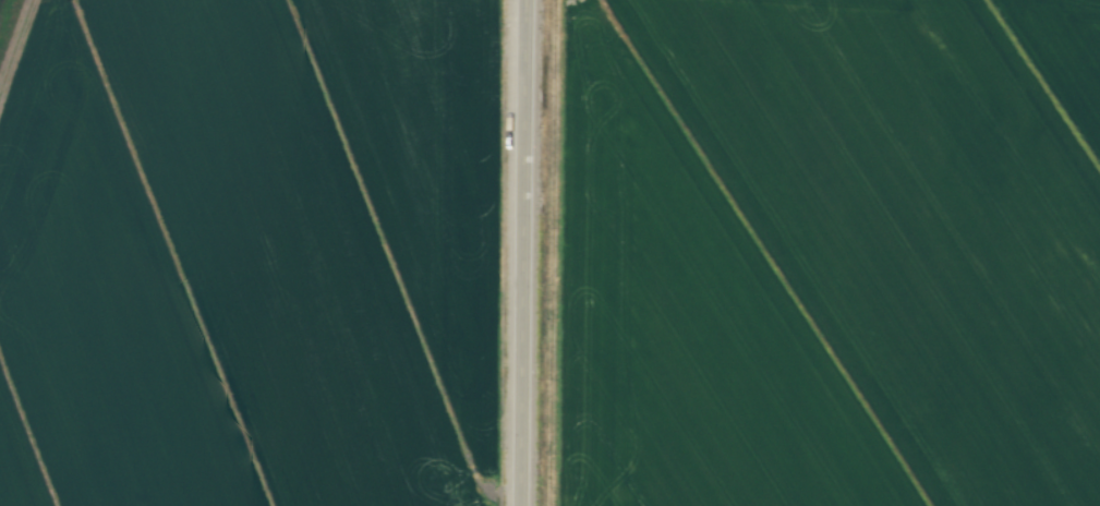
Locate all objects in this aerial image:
road: (525, 253)
crop: (825, 253)

